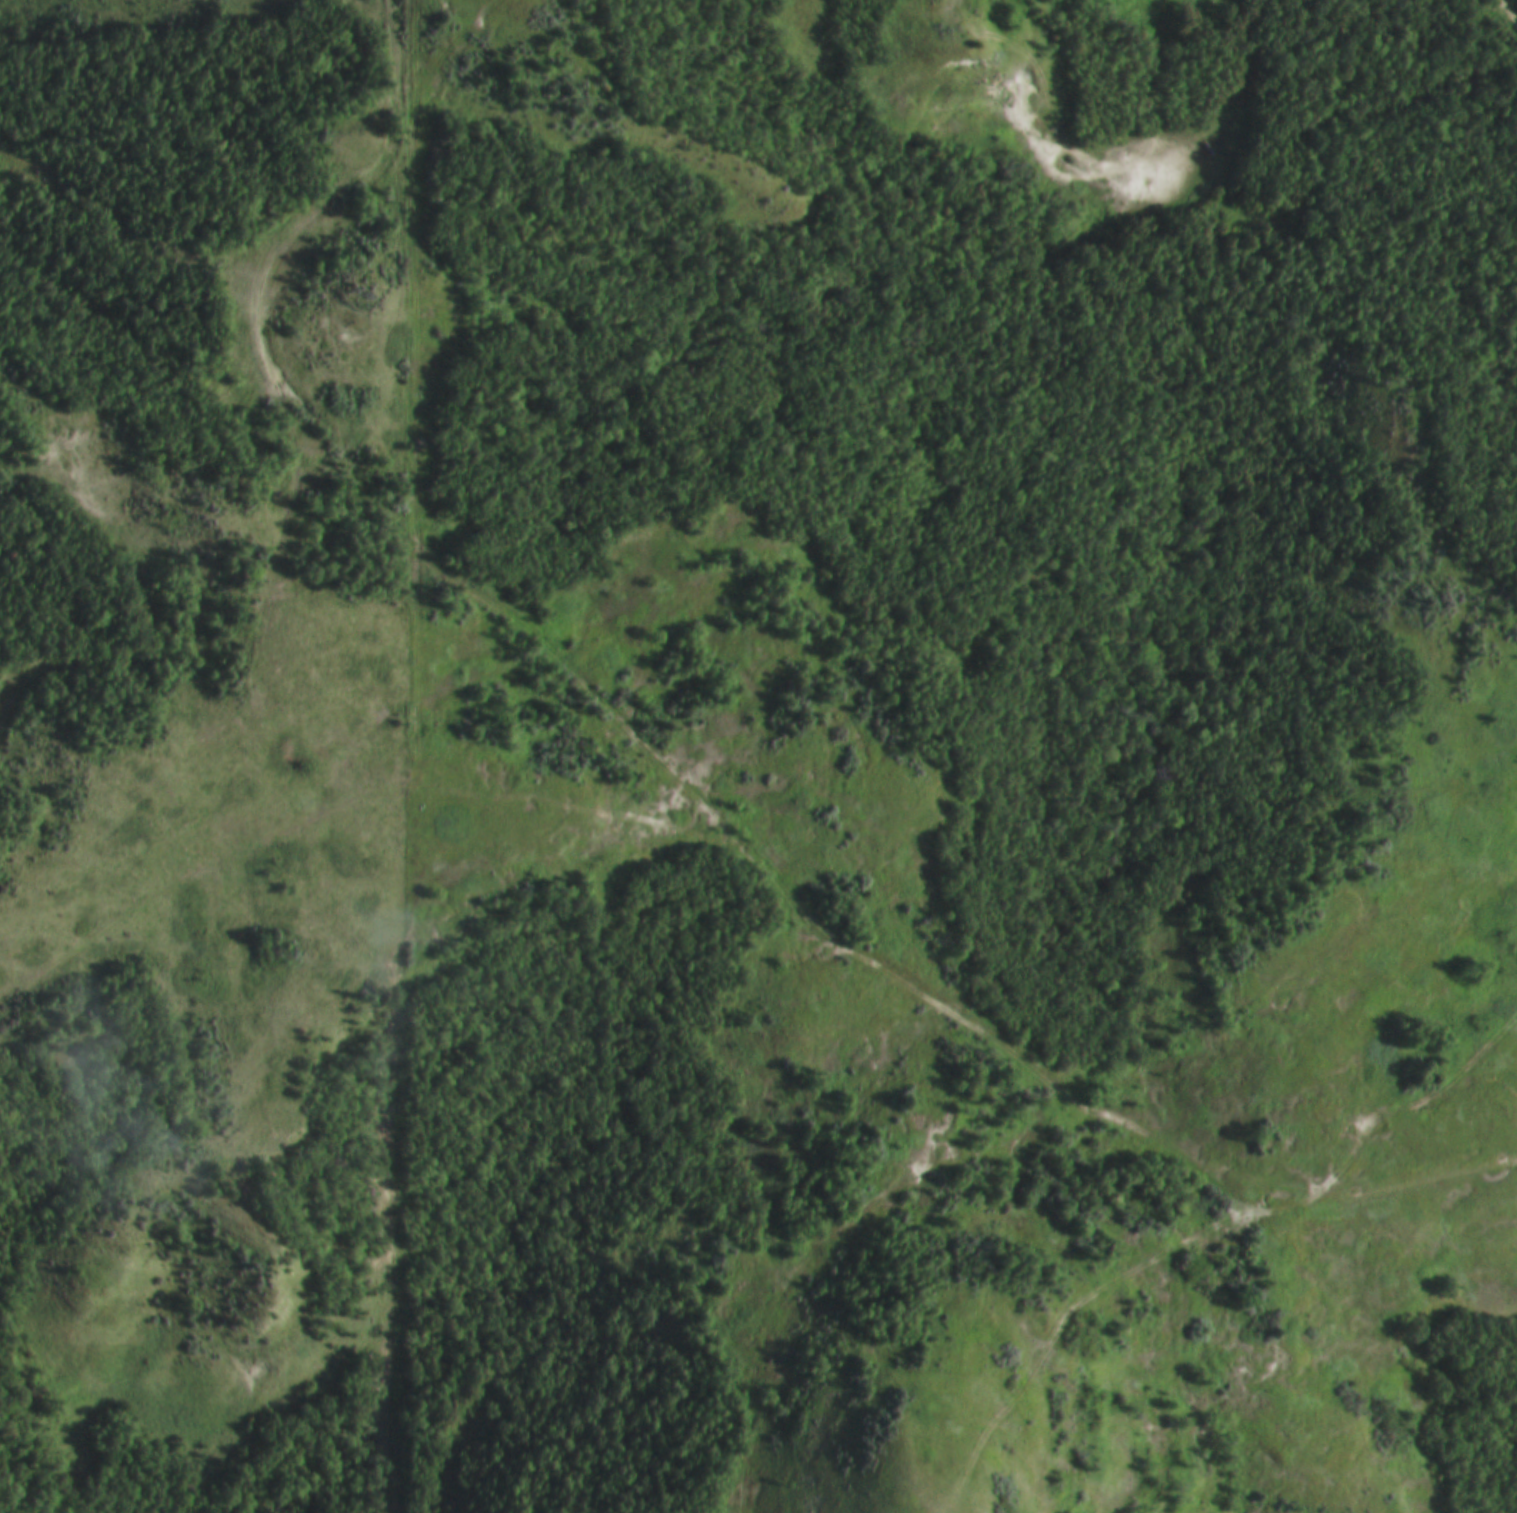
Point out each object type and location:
road: (1507, 10)

